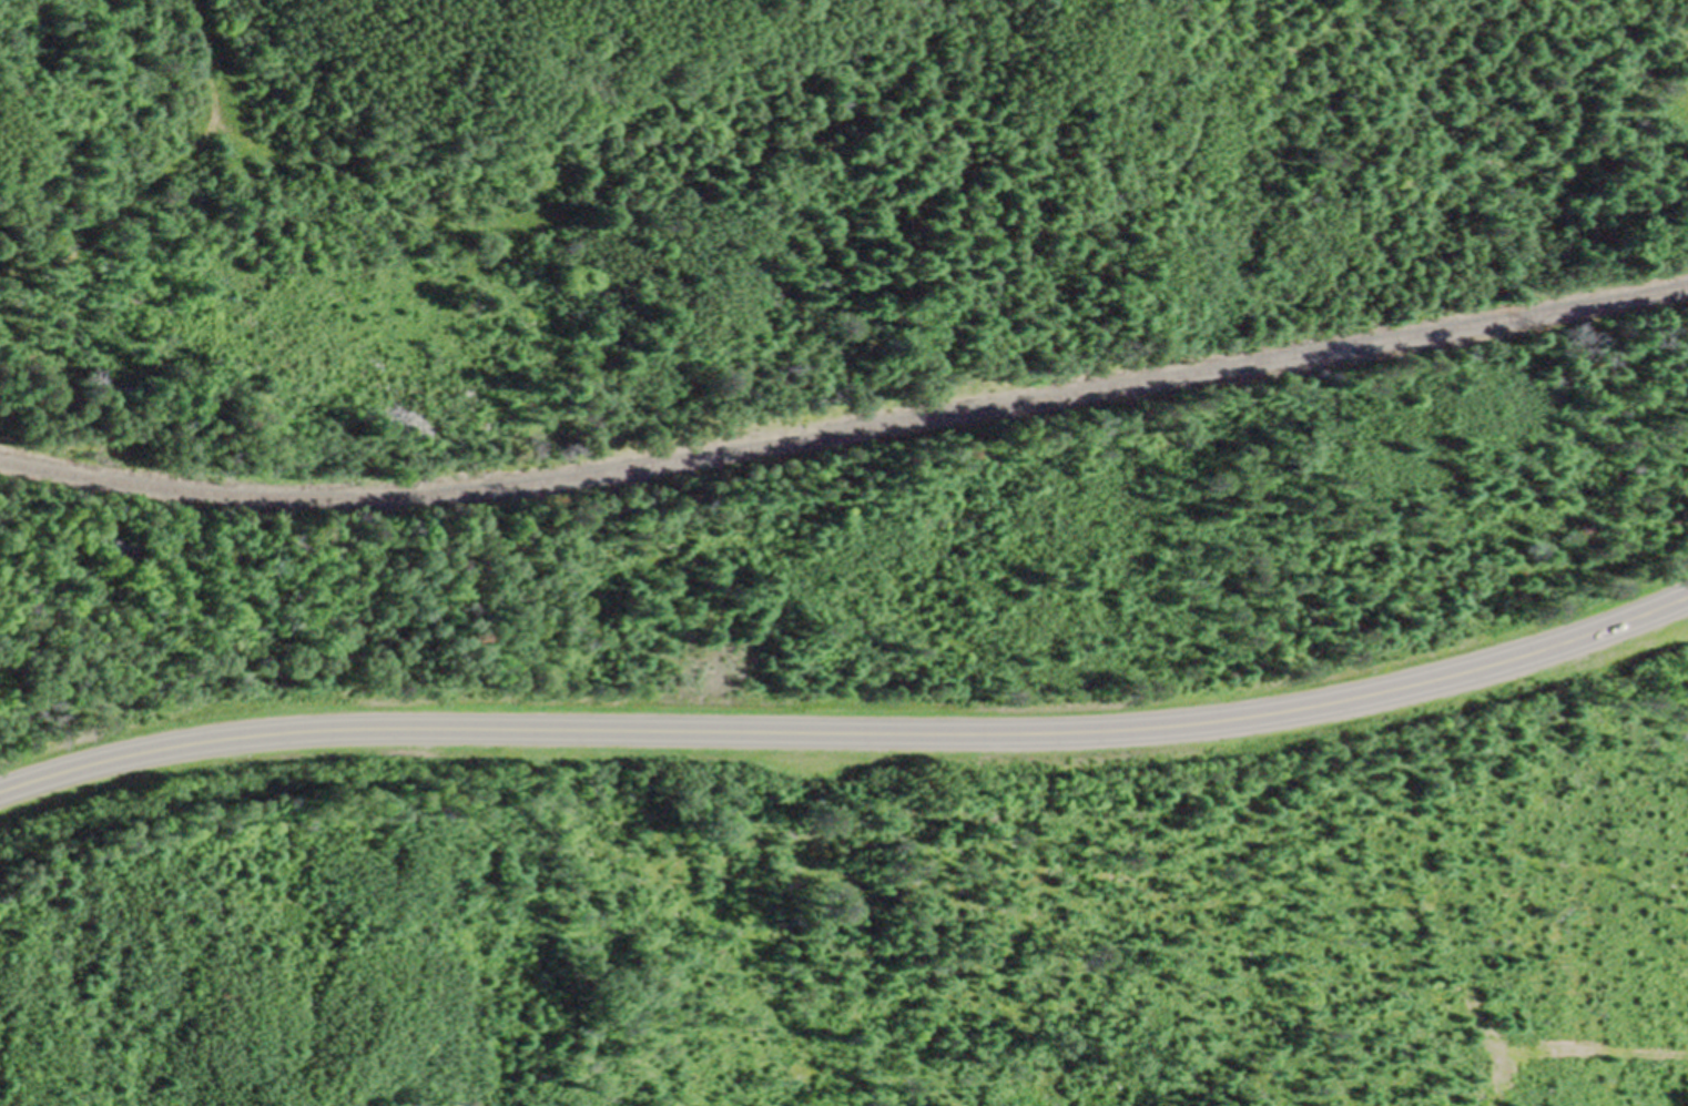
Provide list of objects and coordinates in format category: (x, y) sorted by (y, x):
road: (207, 60)
road: (270, 150)
railway: (846, 432)
road: (850, 732)

